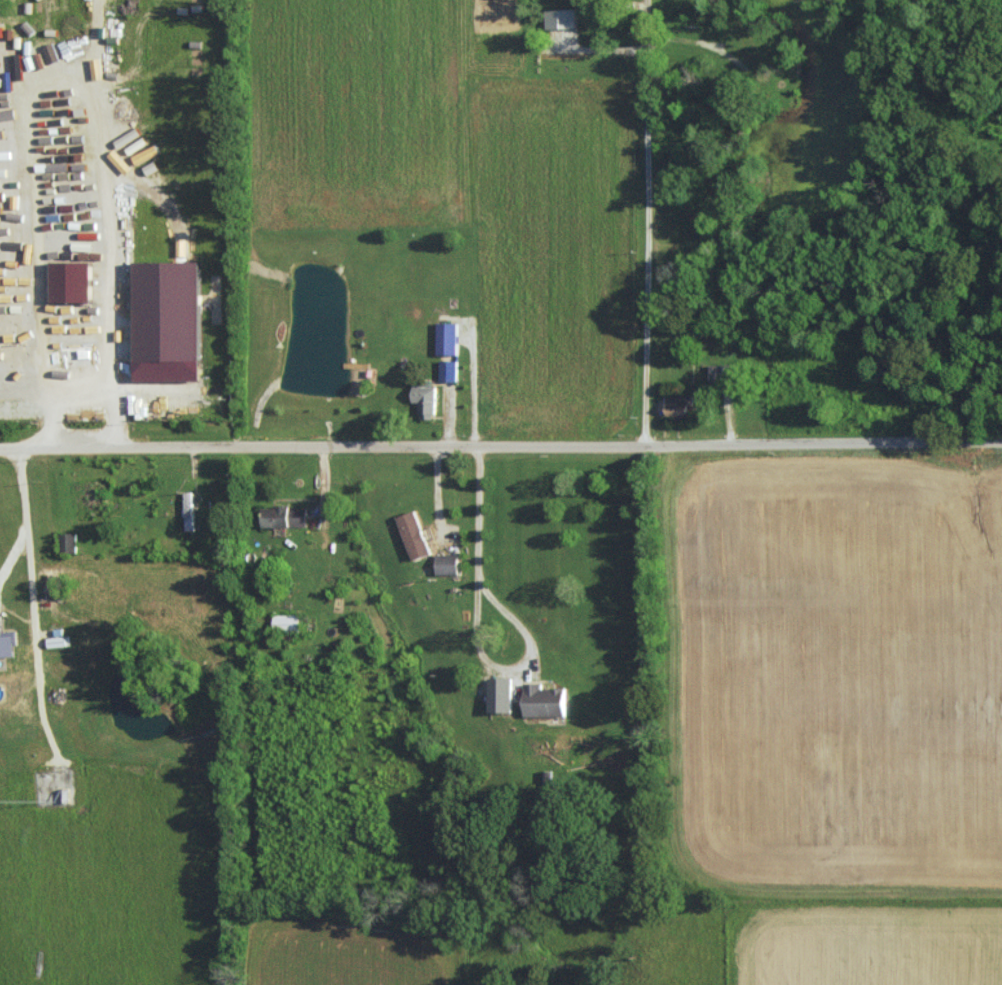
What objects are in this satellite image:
building: (560, 18)
road: (649, 27)
building: (67, 55)
building: (24, 59)
building: (13, 85)
building: (155, 171)
building: (57, 184)
building: (149, 192)
road: (650, 208)
building: (181, 244)
building: (70, 281)
building: (166, 310)
building: (446, 338)
building: (448, 370)
road: (86, 399)
building: (424, 400)
building: (678, 405)
road: (500, 445)
road: (439, 497)
building: (188, 510)
building: (282, 516)
road: (27, 520)
building: (412, 535)
building: (67, 542)
building: (446, 563)
building: (286, 622)
road: (478, 629)
building: (57, 641)
building: (7, 644)
building: (499, 694)
building: (543, 700)

